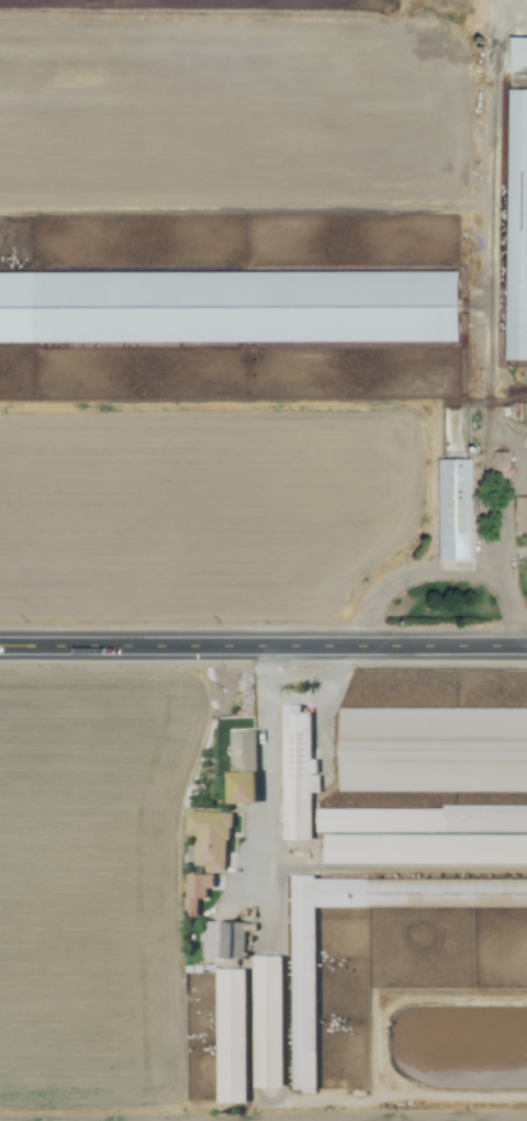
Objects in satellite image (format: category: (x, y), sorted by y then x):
building: (517, 55)
building: (516, 231)
building: (227, 310)
building: (456, 513)
building: (520, 518)
road: (497, 557)
road: (412, 578)
road: (263, 644)
road: (319, 693)
building: (431, 751)
road: (267, 762)
building: (239, 770)
building: (294, 777)
building: (421, 820)
building: (208, 841)
building: (424, 851)
building: (195, 892)
building: (224, 941)
building: (302, 999)
building: (266, 1022)
building: (228, 1038)

